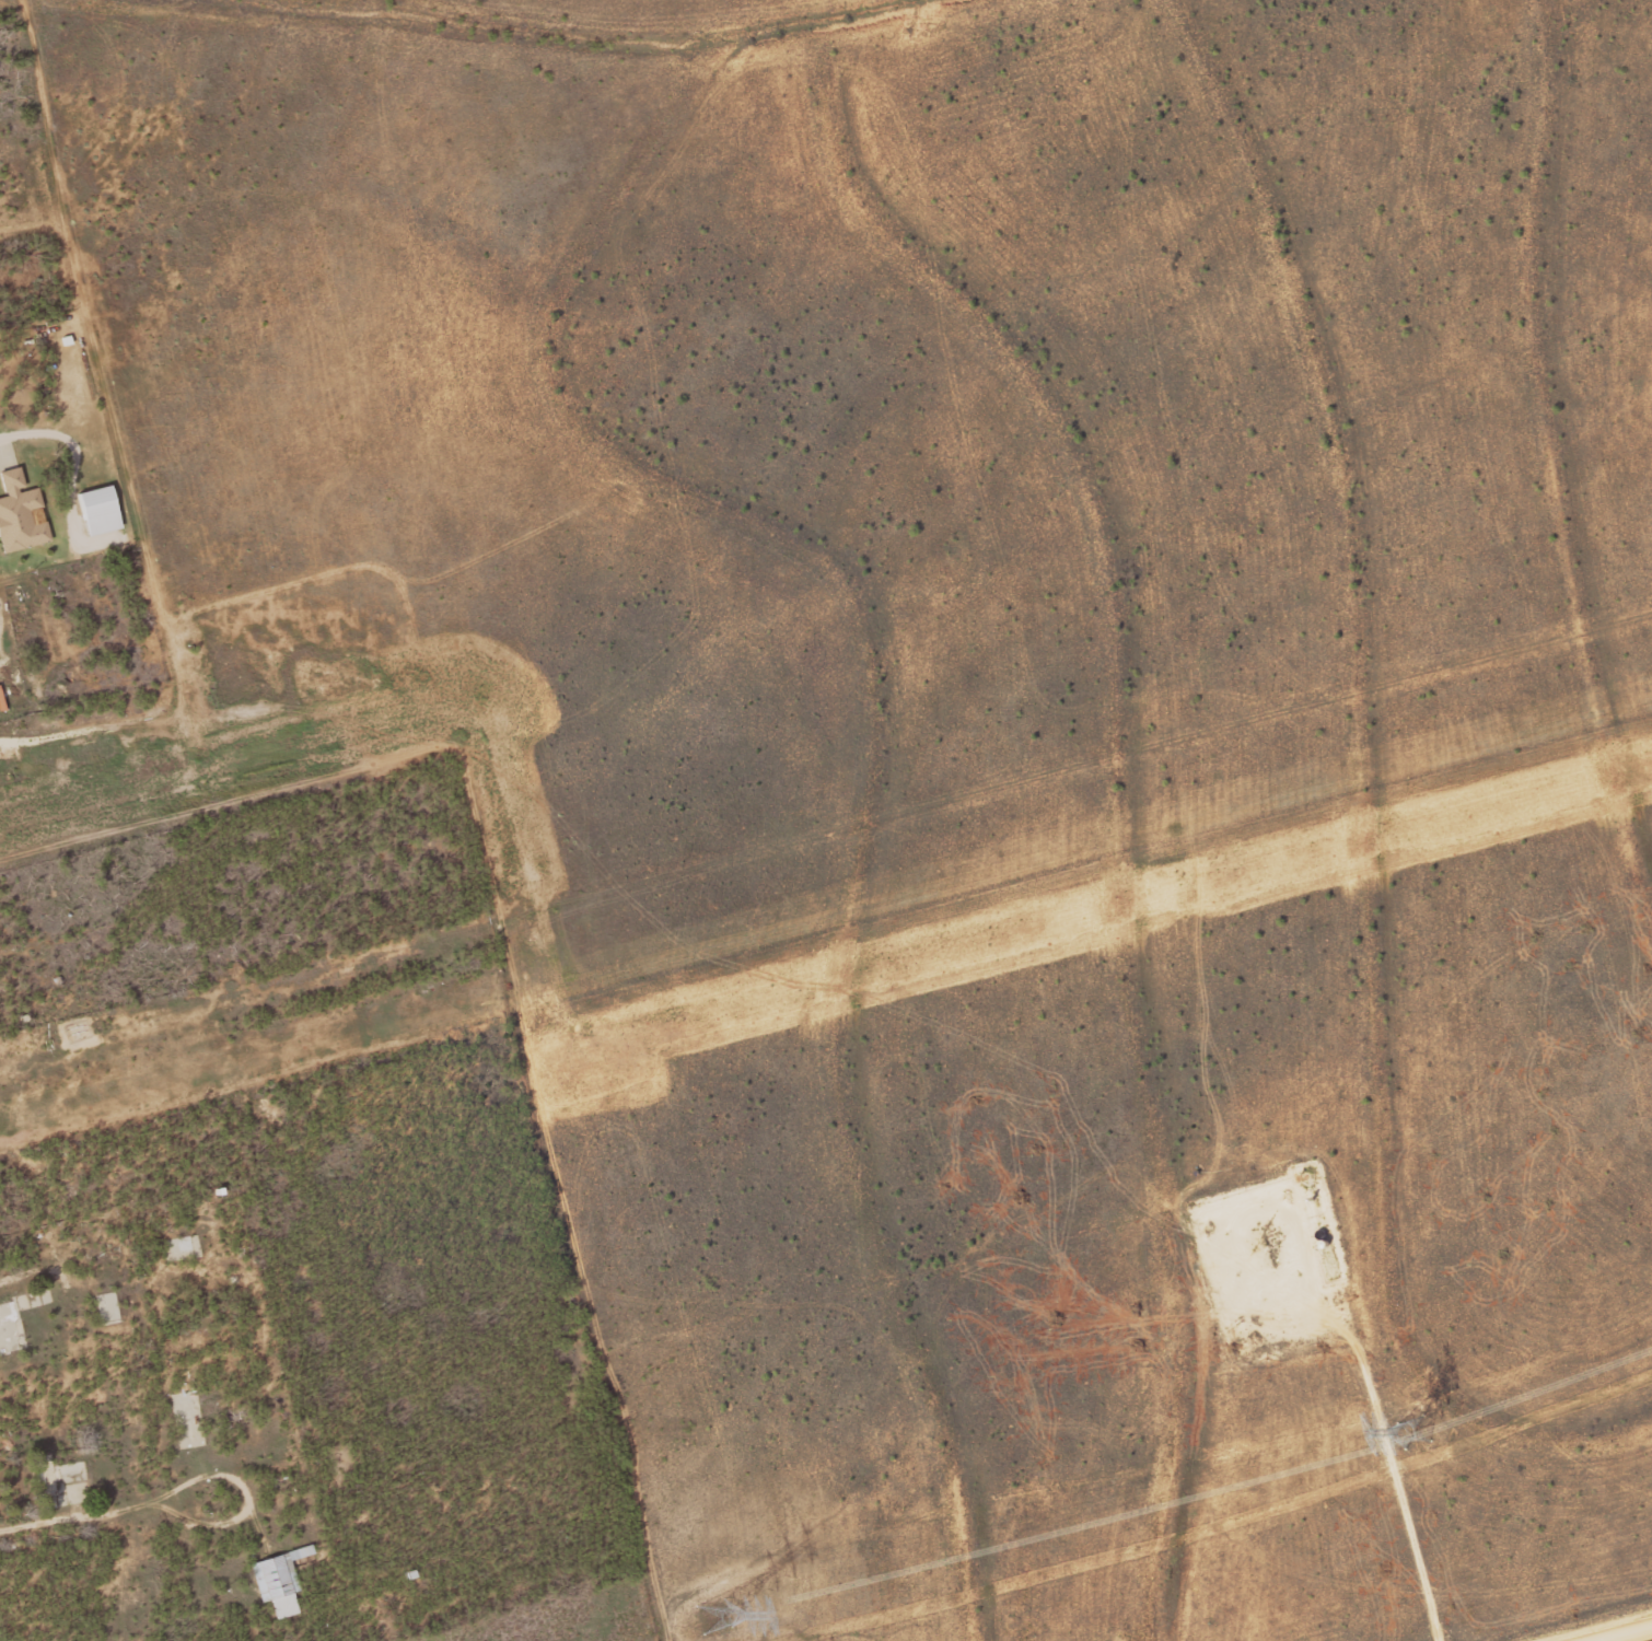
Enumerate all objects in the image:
building: (100, 511)
building: (20, 514)
building: (108, 1306)
building: (14, 1319)
power tower: (1412, 1433)
building: (280, 1581)
power tower: (716, 1617)
road: (1621, 1632)

